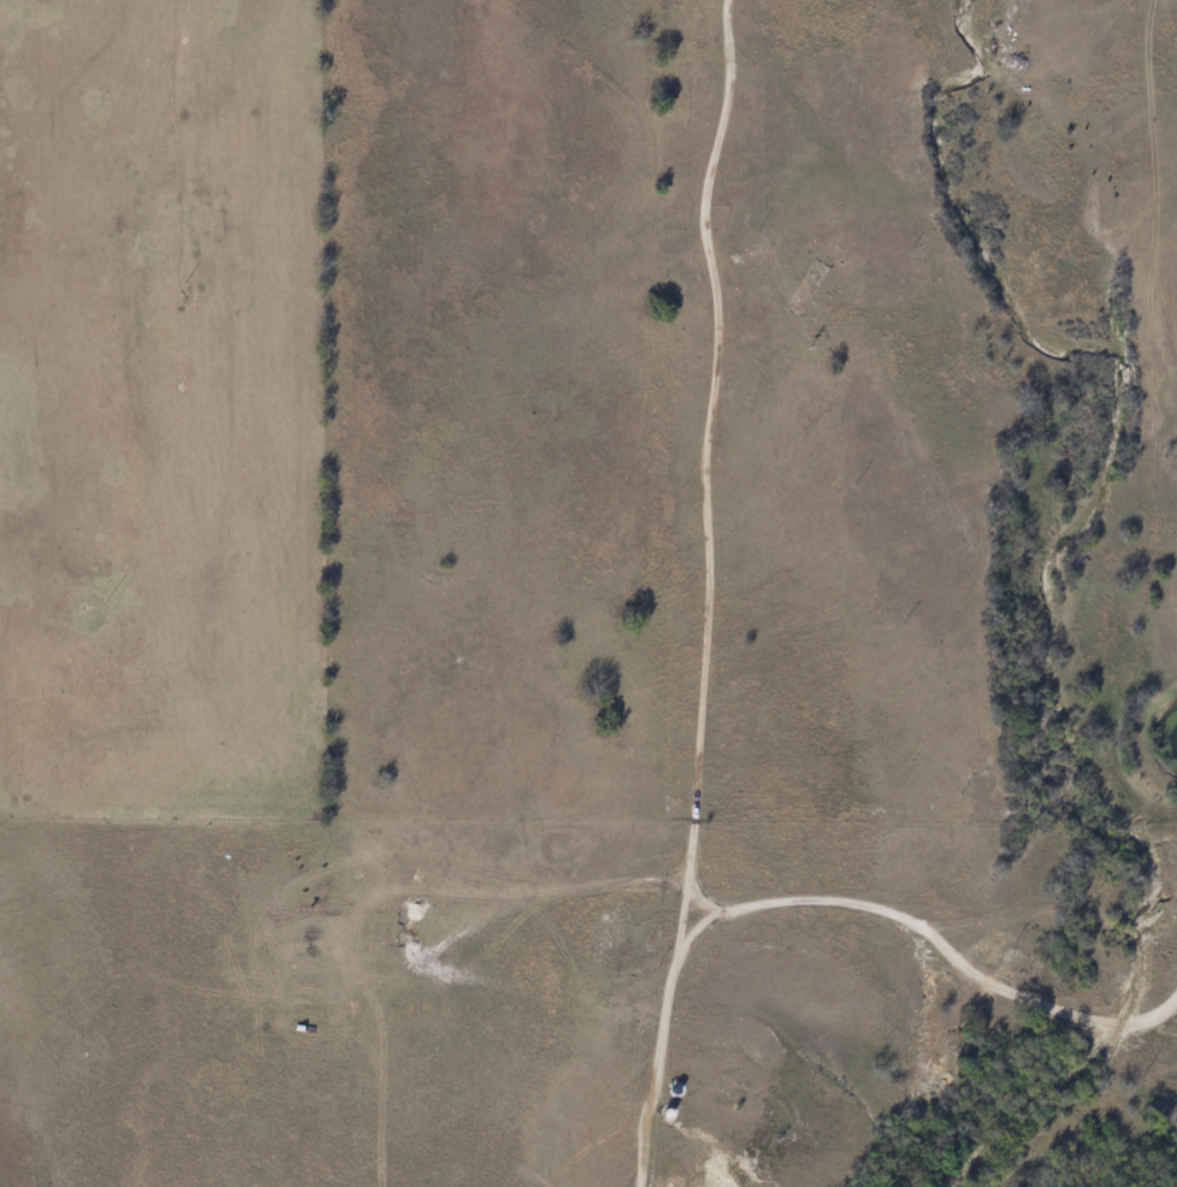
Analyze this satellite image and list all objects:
road: (697, 595)
road: (699, 897)
road: (931, 938)

